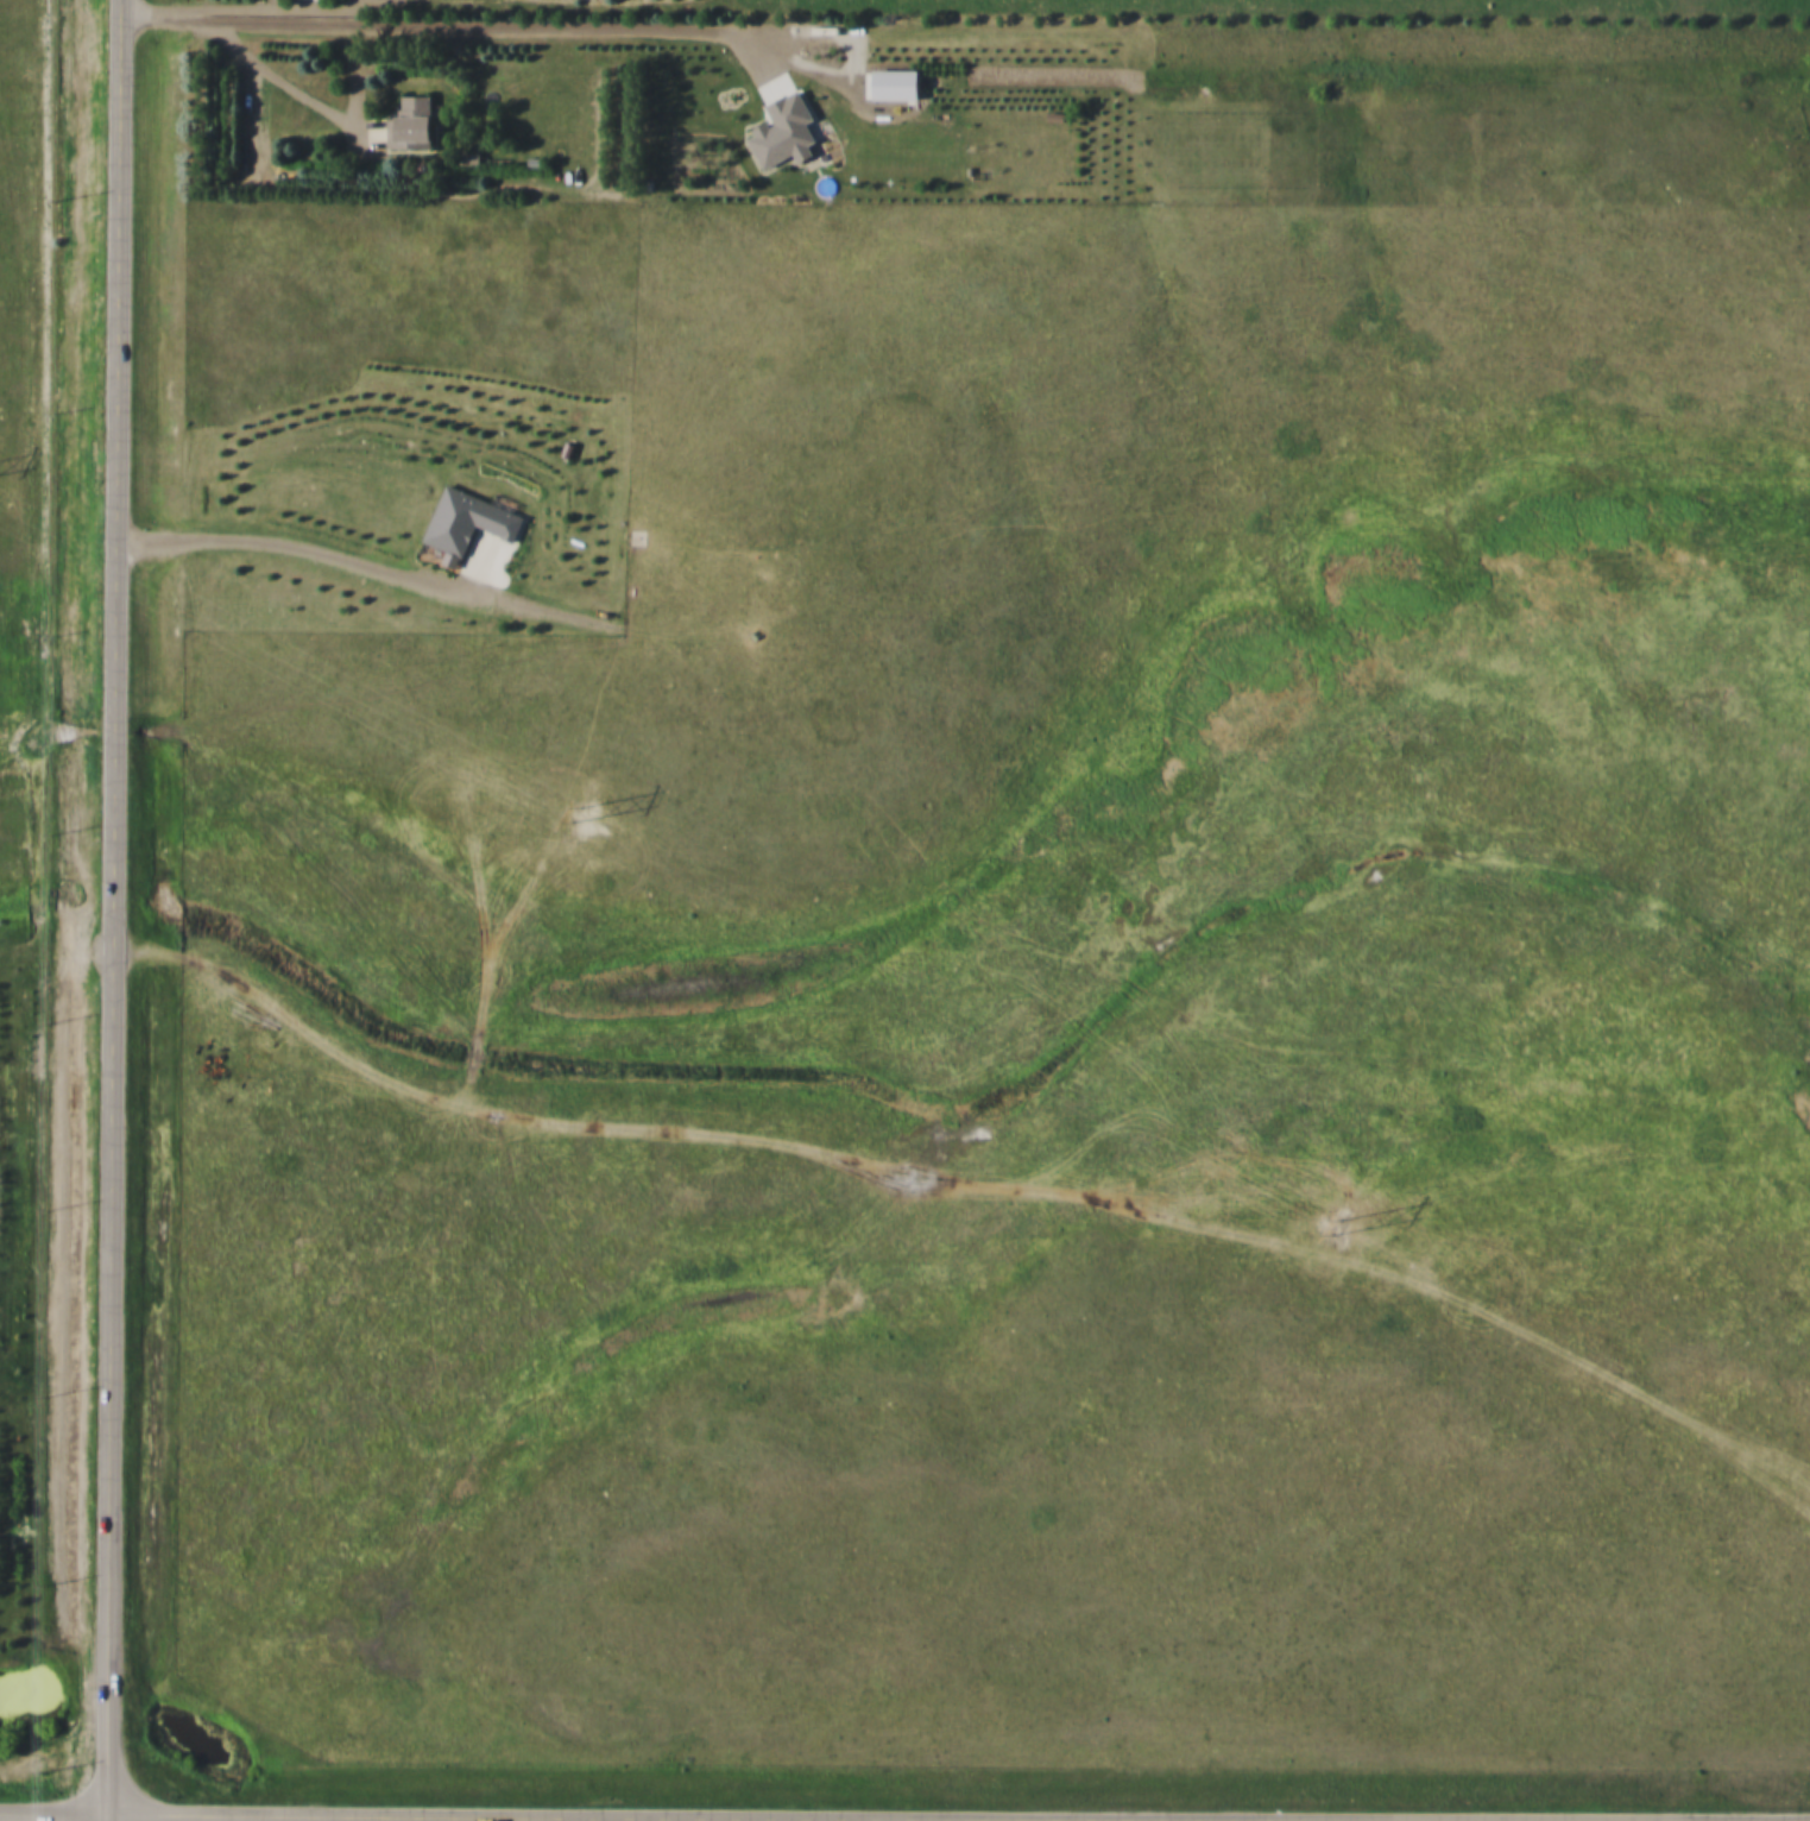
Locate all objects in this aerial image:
road: (424, 26)
building: (406, 124)
building: (472, 519)
power tower: (582, 818)
road: (113, 910)
power tower: (1339, 1229)
river: (24, 1700)
river: (108, 1710)
river: (200, 1748)
river: (233, 1798)
road: (336, 1819)
road: (323, 1820)

